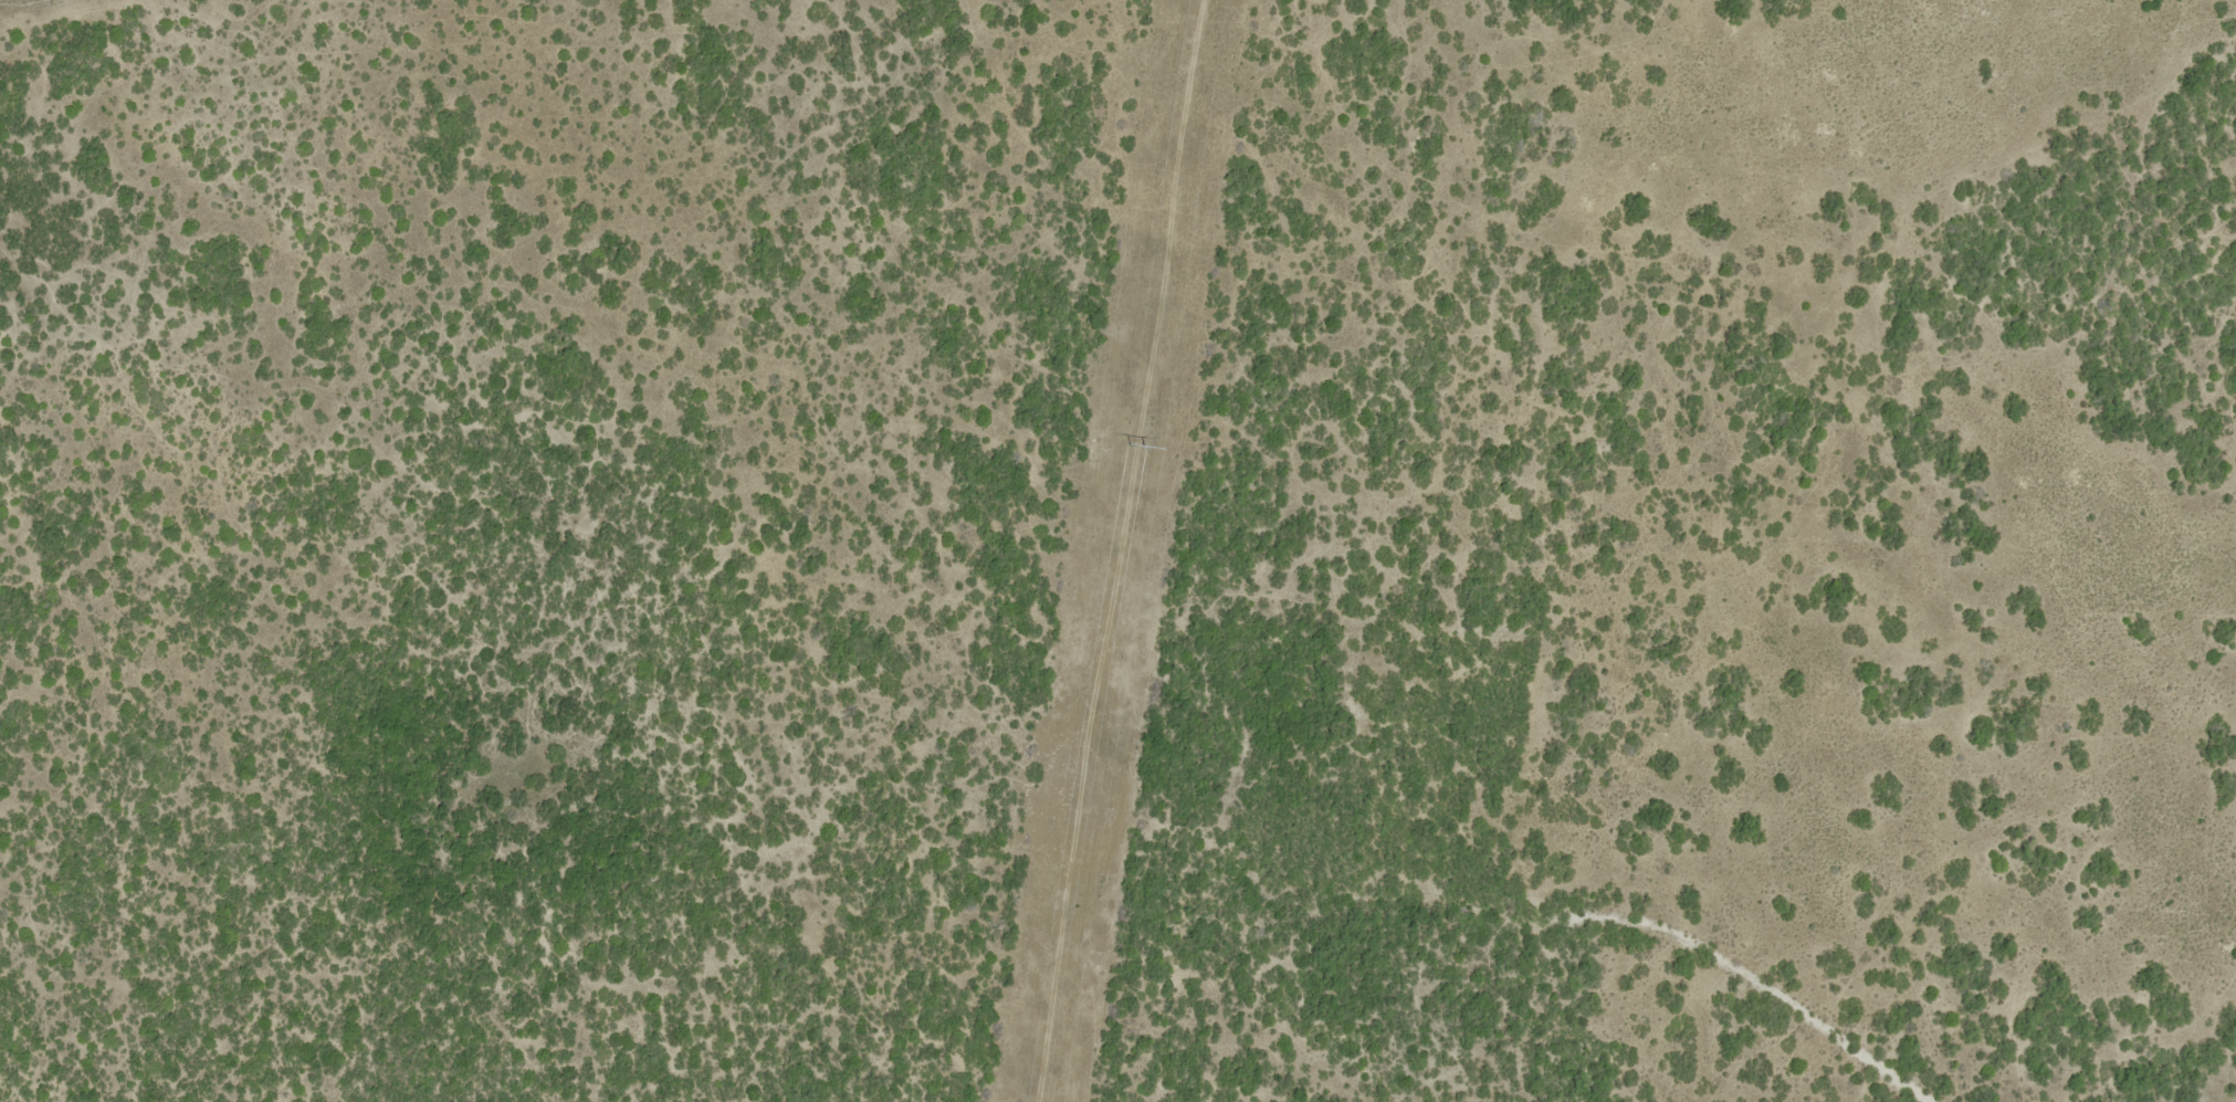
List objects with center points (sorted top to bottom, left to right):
power tower: (1135, 447)

